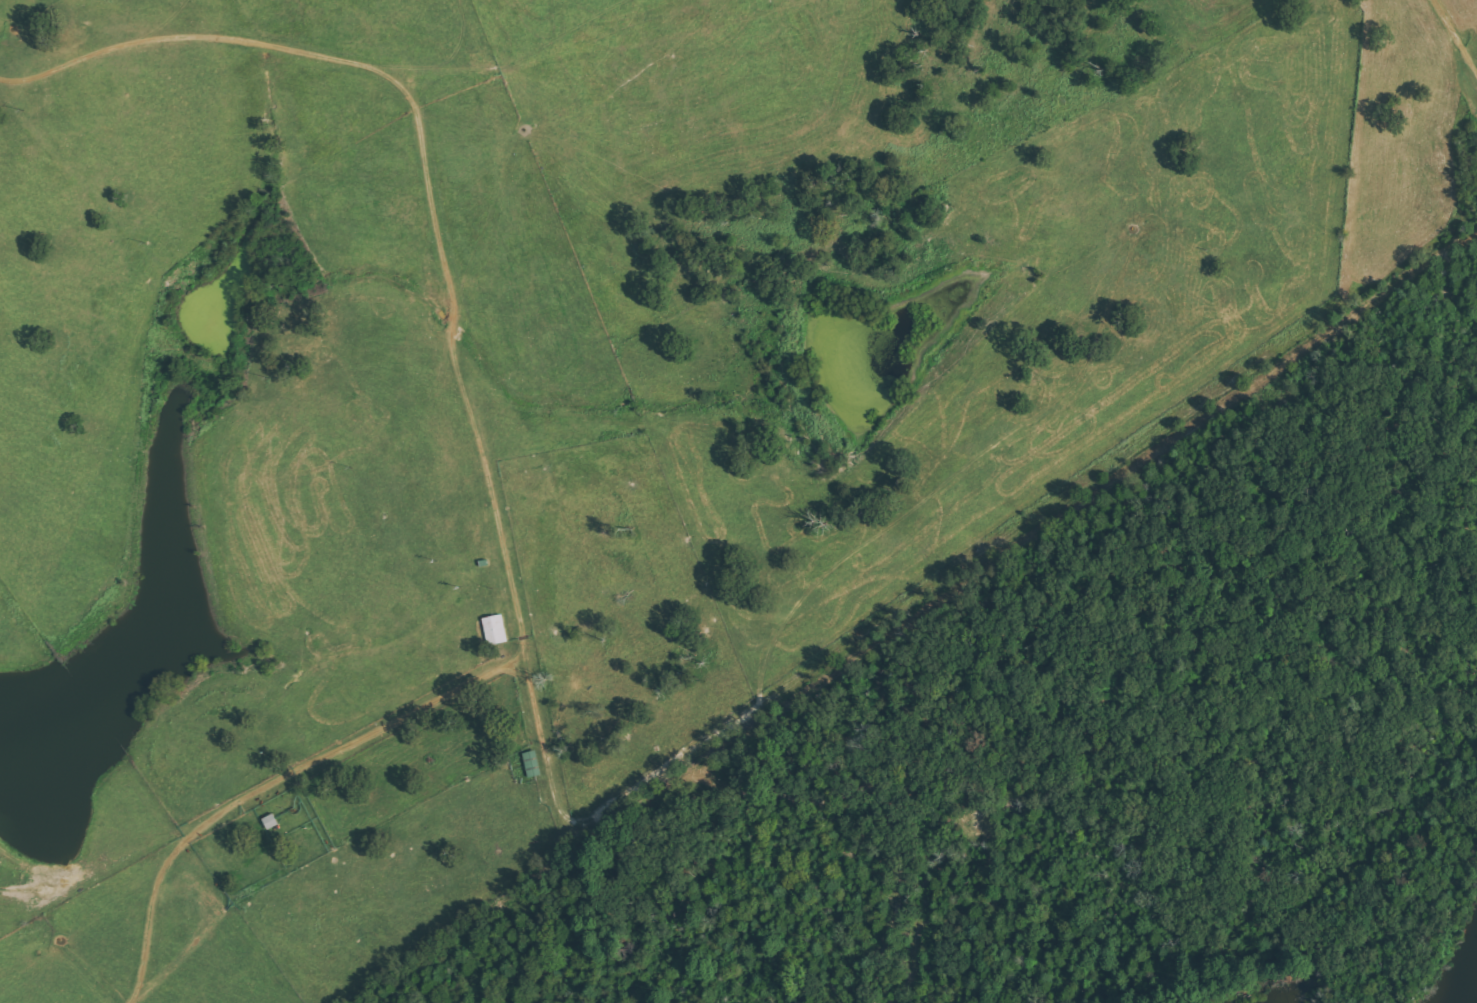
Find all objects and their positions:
building: (495, 630)
building: (532, 764)
building: (271, 821)

